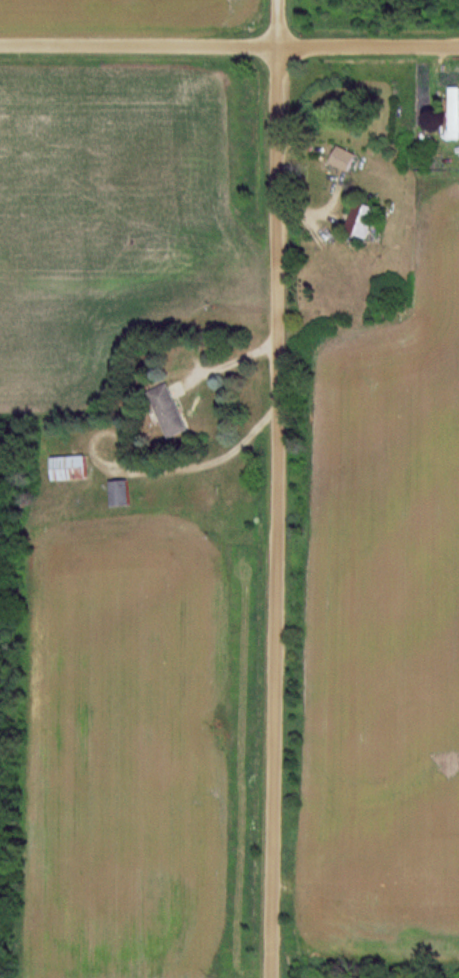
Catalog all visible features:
road: (229, 45)
building: (455, 113)
building: (455, 187)
building: (365, 221)
building: (170, 410)
road: (192, 449)
building: (72, 467)
road: (274, 489)
building: (123, 493)

